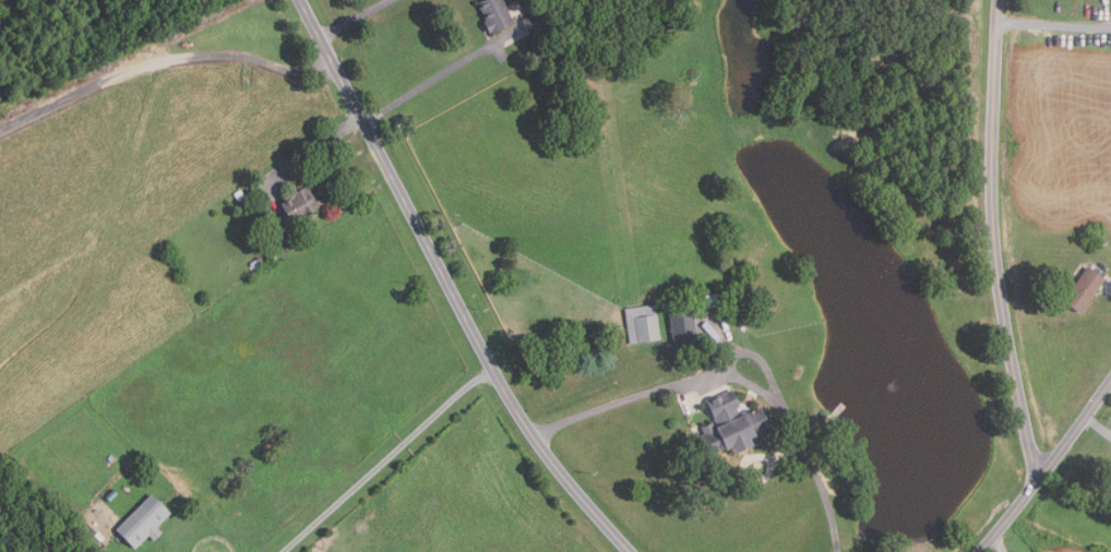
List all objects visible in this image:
building: (497, 14)
road: (354, 17)
building: (537, 21)
road: (162, 60)
road: (427, 81)
road: (310, 148)
building: (300, 203)
road: (992, 243)
building: (258, 263)
road: (1108, 285)
road: (451, 286)
building: (1080, 289)
building: (708, 301)
building: (643, 324)
building: (684, 327)
road: (740, 365)
building: (734, 423)
road: (1098, 425)
road: (389, 461)
road: (1047, 467)
building: (144, 521)
road: (997, 543)

